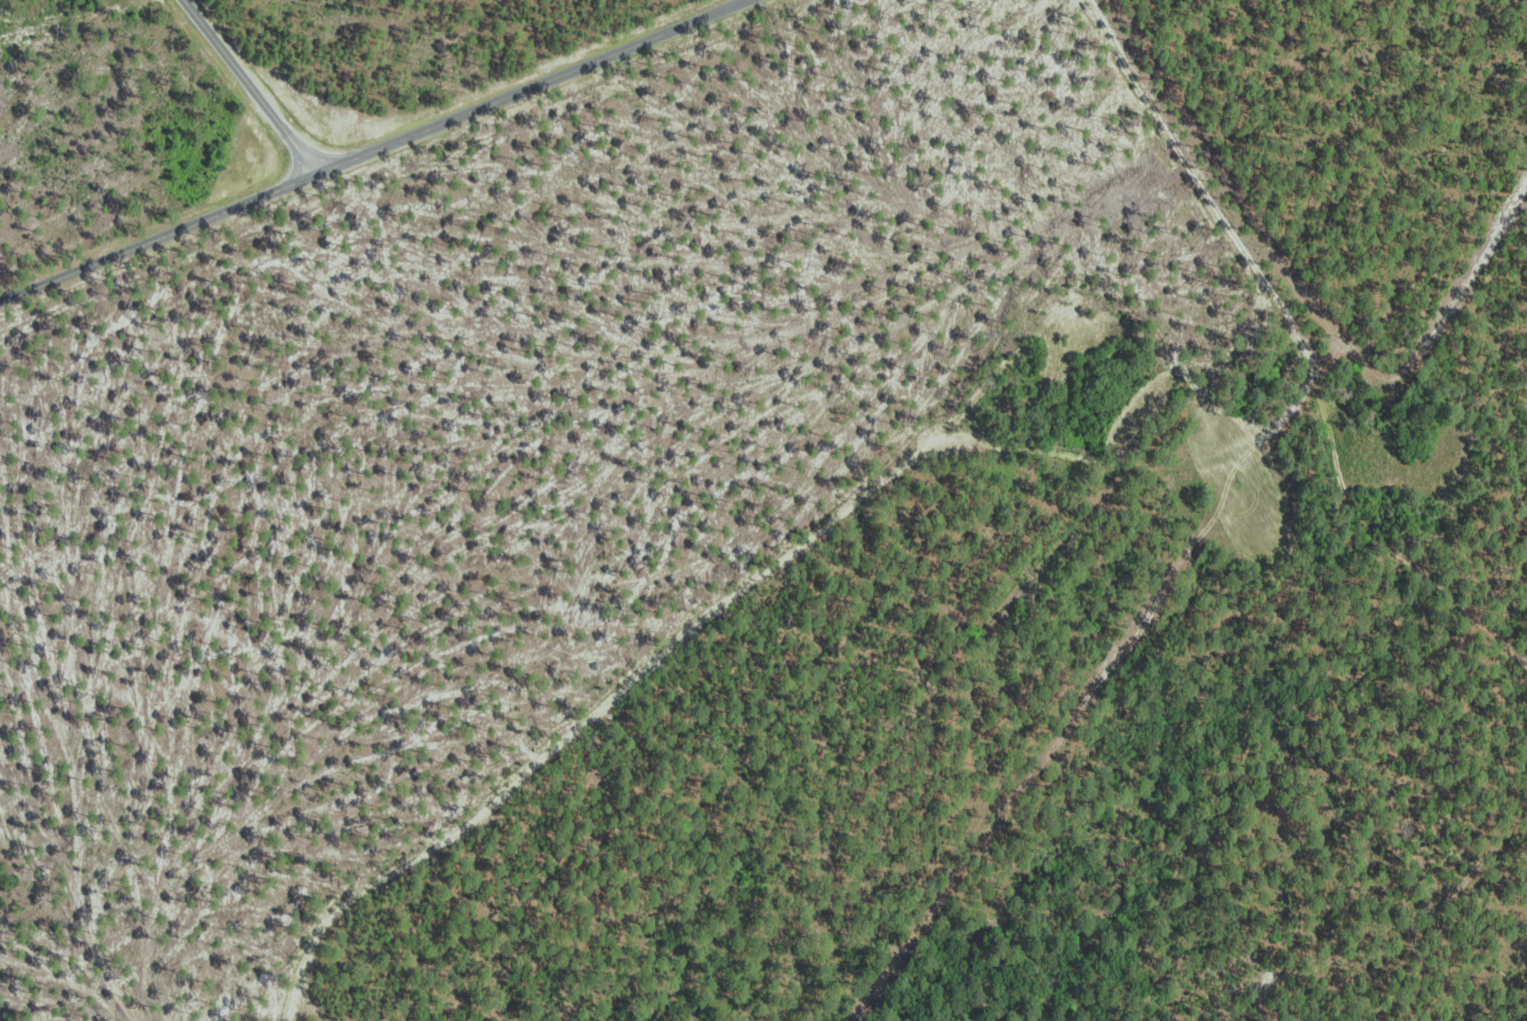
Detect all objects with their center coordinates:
road: (253, 87)
road: (374, 151)

